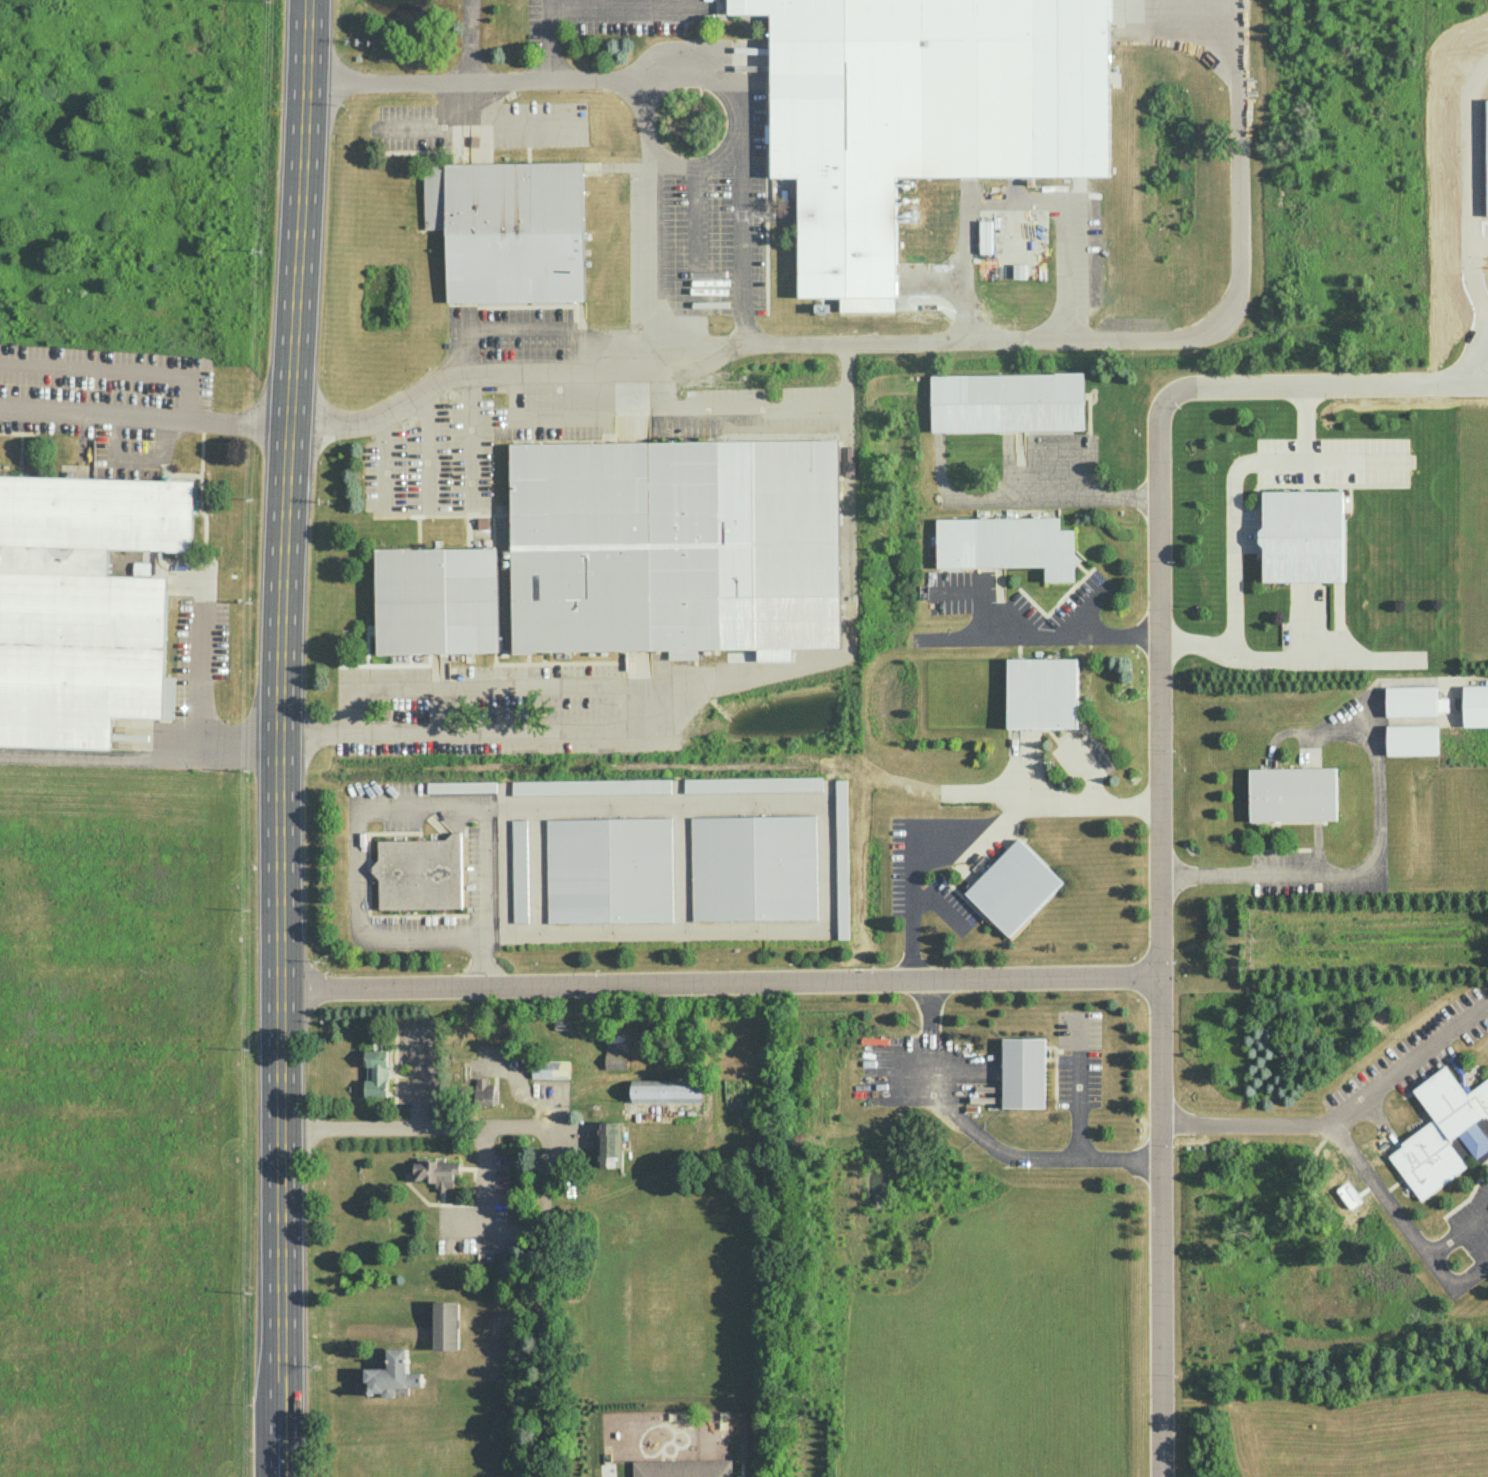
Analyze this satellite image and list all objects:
road: (469, 39)
road: (664, 73)
road: (387, 77)
building: (922, 113)
road: (688, 165)
road: (1014, 199)
building: (509, 229)
road: (695, 268)
road: (520, 323)
road: (617, 339)
road: (1051, 341)
road: (702, 363)
road: (465, 374)
road: (1320, 385)
road: (653, 399)
building: (1007, 401)
road: (144, 410)
road: (561, 416)
road: (474, 439)
road: (428, 446)
road: (384, 458)
road: (1353, 461)
road: (1055, 498)
road: (1233, 526)
building: (1302, 535)
building: (1006, 544)
building: (634, 554)
building: (141, 568)
building: (83, 603)
road: (1040, 634)
road: (1323, 659)
road: (477, 686)
road: (675, 692)
building: (1042, 692)
road: (189, 698)
building: (1411, 702)
building: (1475, 706)
road: (279, 738)
building: (1411, 739)
building: (10, 752)
road: (107, 757)
building: (752, 784)
building: (461, 786)
building: (590, 786)
building: (1292, 793)
road: (1088, 804)
road: (824, 810)
road: (484, 835)
road: (911, 848)
building: (841, 858)
building: (753, 867)
road: (1360, 868)
building: (608, 869)
building: (518, 870)
building: (419, 872)
building: (1013, 887)
road: (936, 905)
road: (367, 938)
road: (1163, 941)
road: (721, 983)
building: (616, 1054)
road: (1409, 1063)
road: (928, 1066)
building: (550, 1069)
building: (376, 1072)
building: (1023, 1072)
road: (1078, 1088)
building: (485, 1090)
building: (667, 1090)
building: (1443, 1131)
road: (1341, 1138)
building: (609, 1144)
road: (1067, 1155)
road: (543, 1168)
building: (437, 1172)
road: (487, 1207)
road: (1457, 1232)
building: (504, 1263)
road: (1470, 1275)
building: (446, 1325)
building: (392, 1372)
building: (683, 1468)

